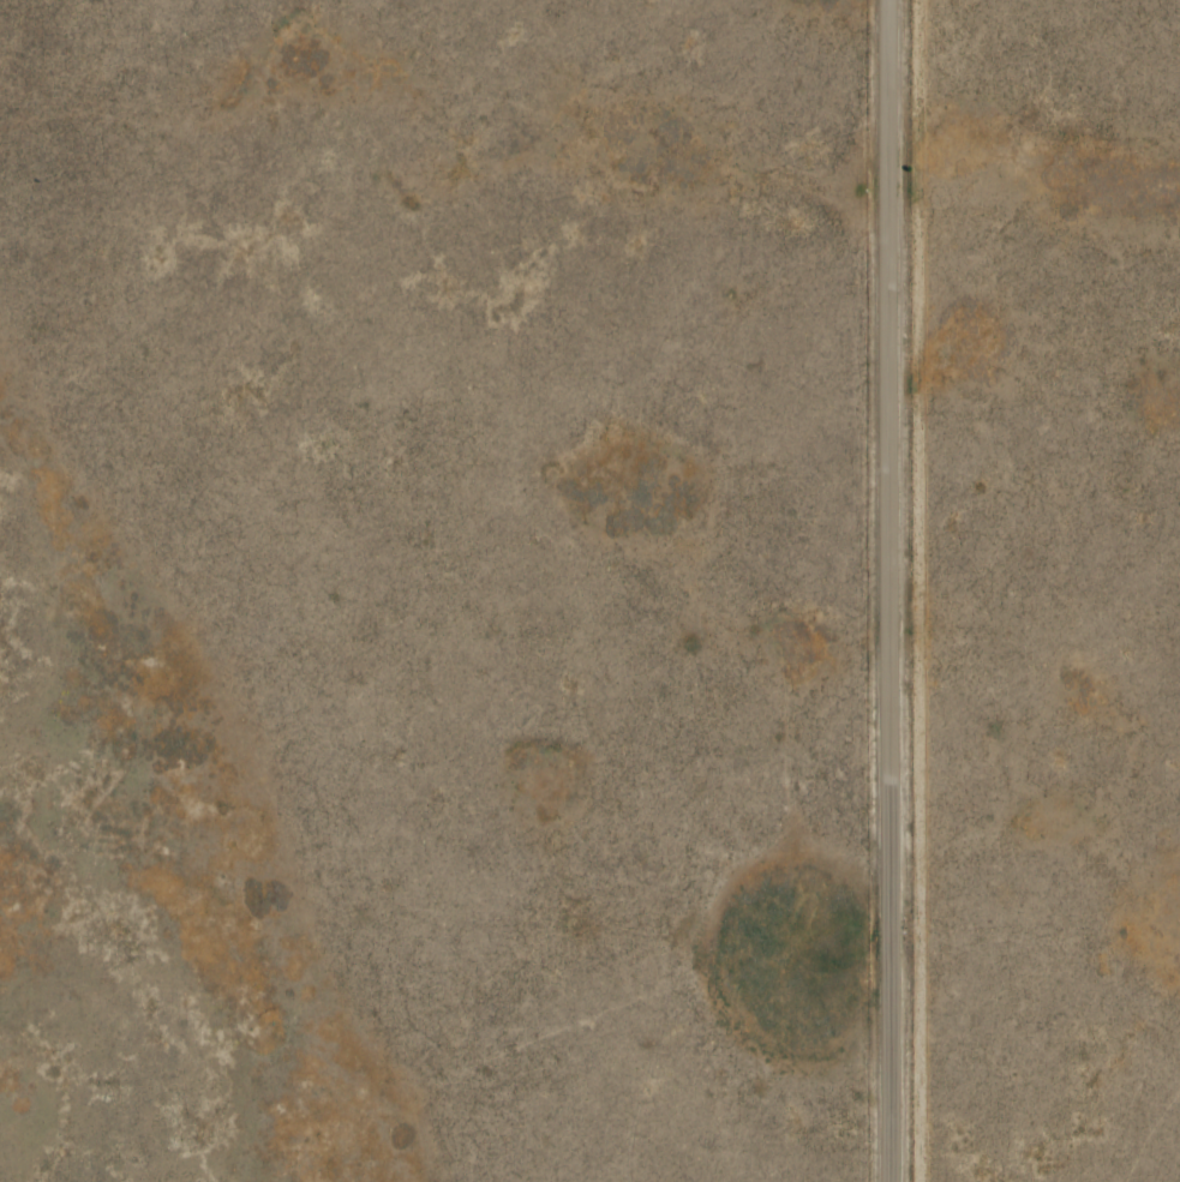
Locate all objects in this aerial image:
road: (893, 590)

